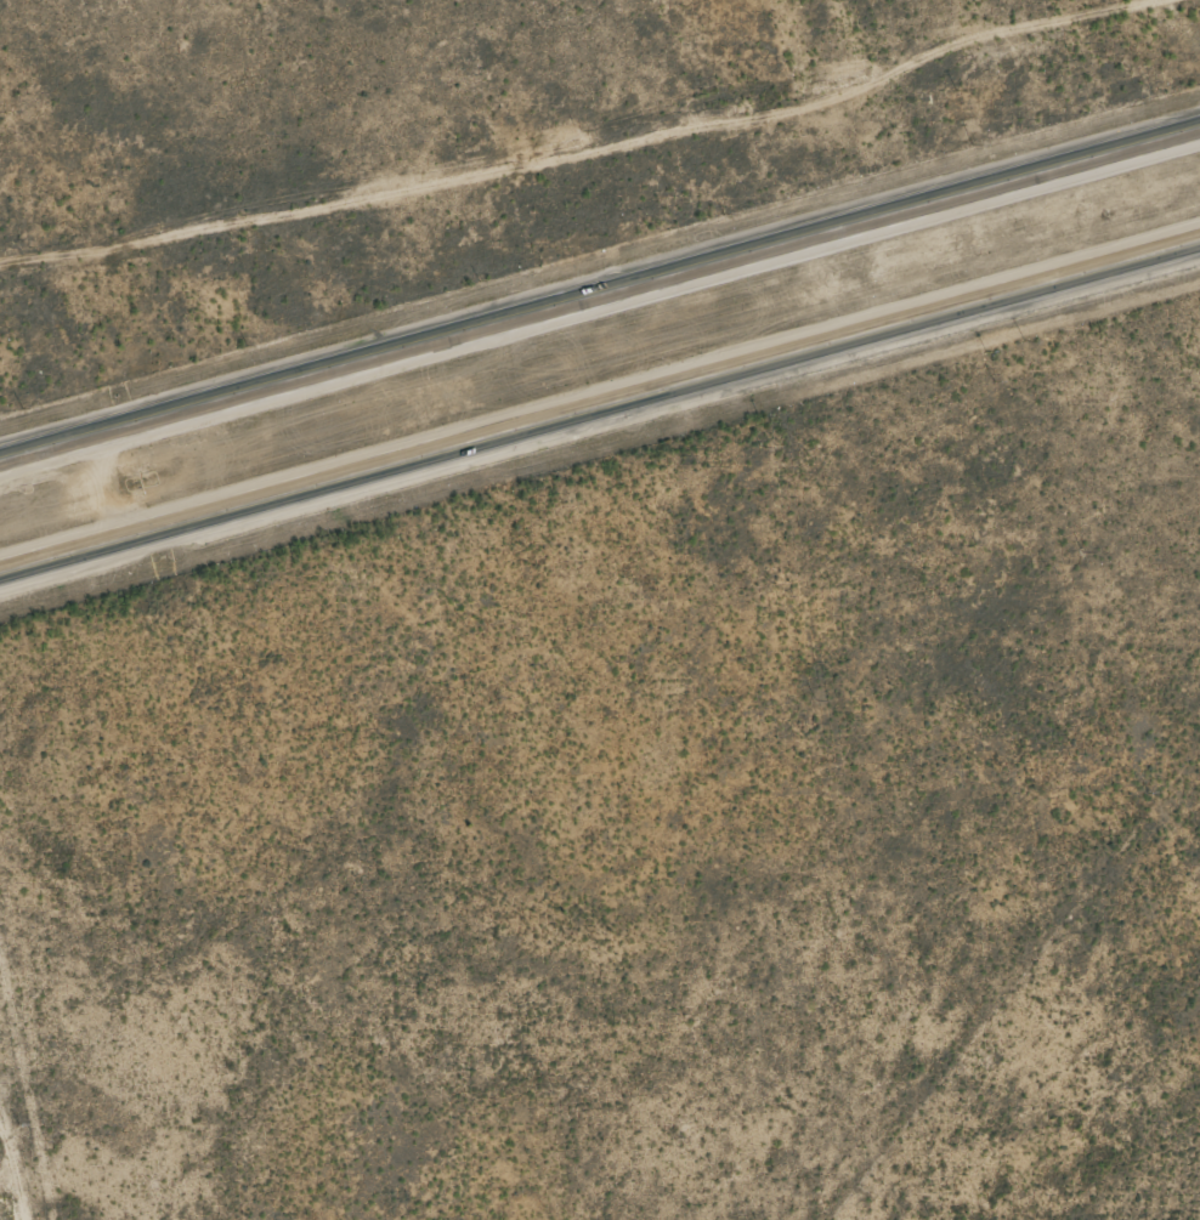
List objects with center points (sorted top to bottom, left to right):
road: (600, 294)
road: (600, 402)

